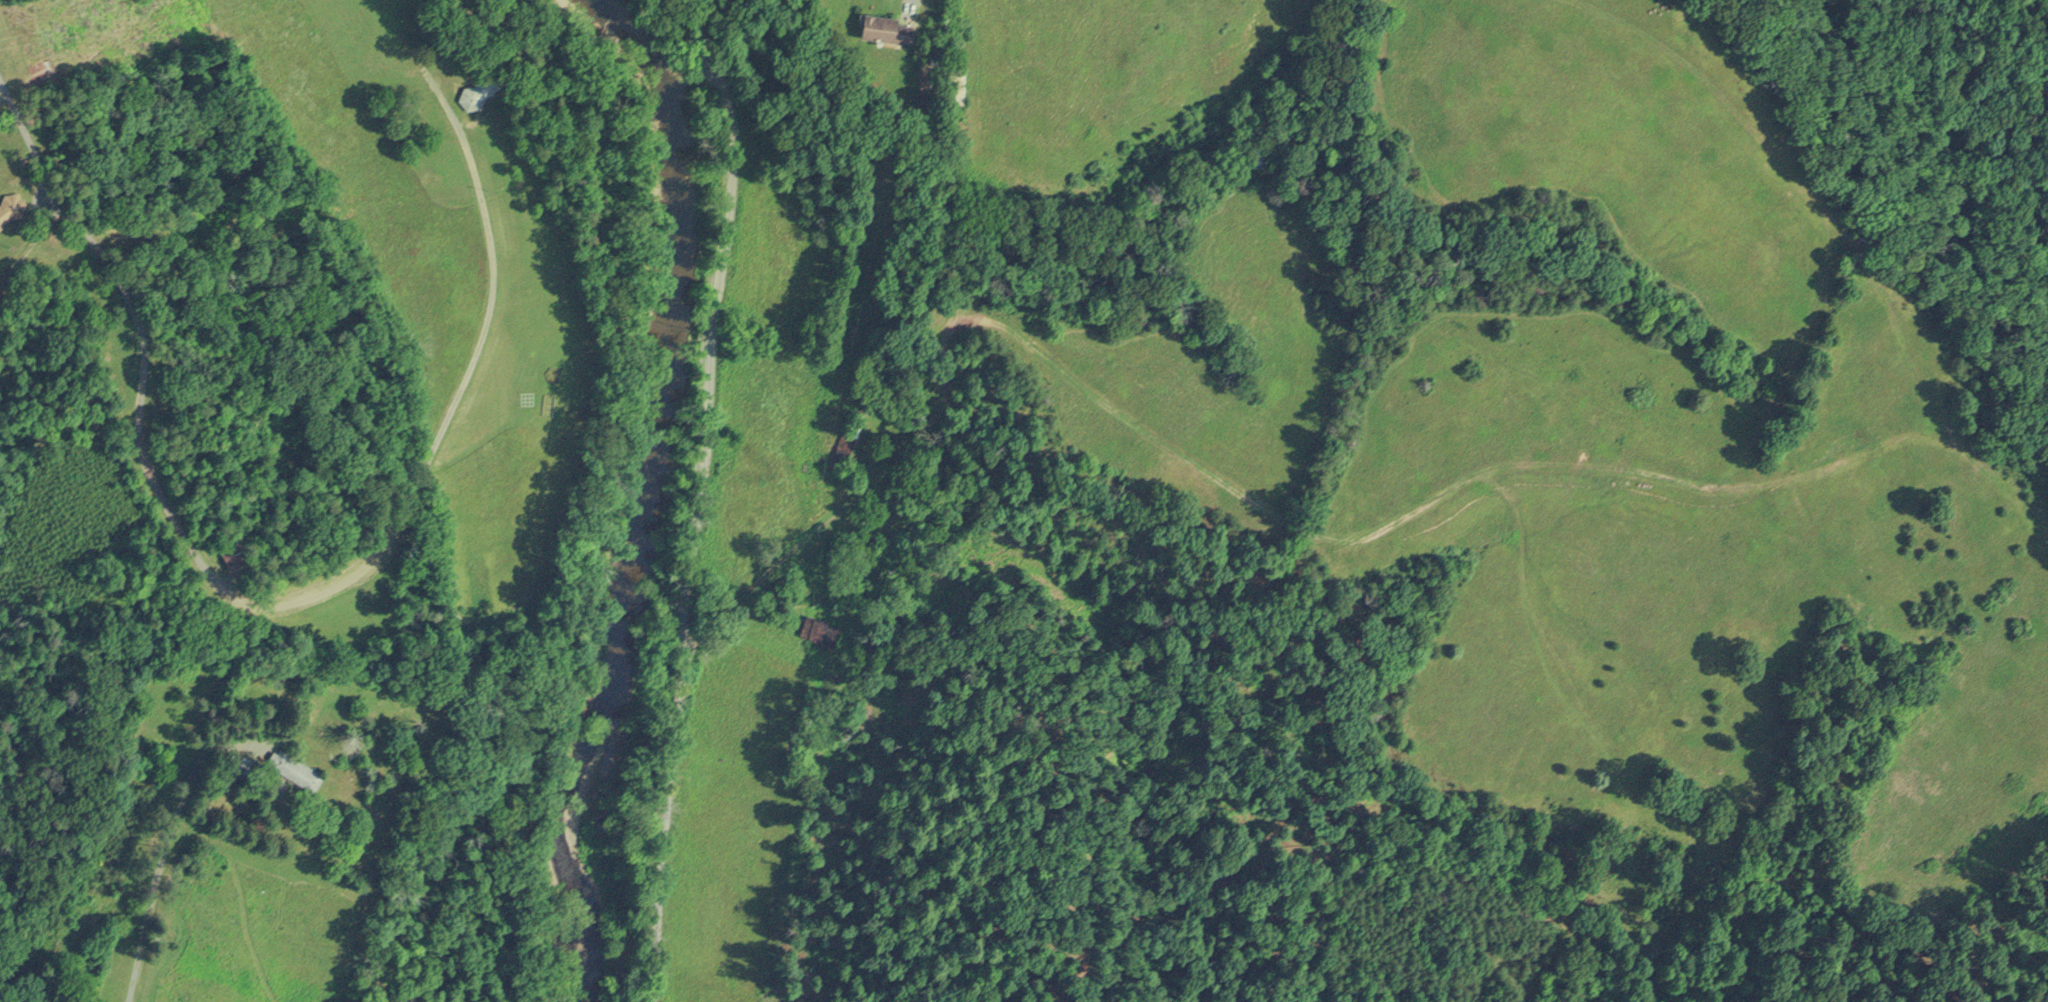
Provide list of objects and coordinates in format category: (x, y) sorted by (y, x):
building: (885, 27)
building: (477, 92)
building: (10, 206)
building: (0, 226)
road: (141, 341)
road: (457, 391)
building: (846, 436)
river: (638, 485)
road: (698, 497)
road: (1268, 526)
building: (293, 768)

